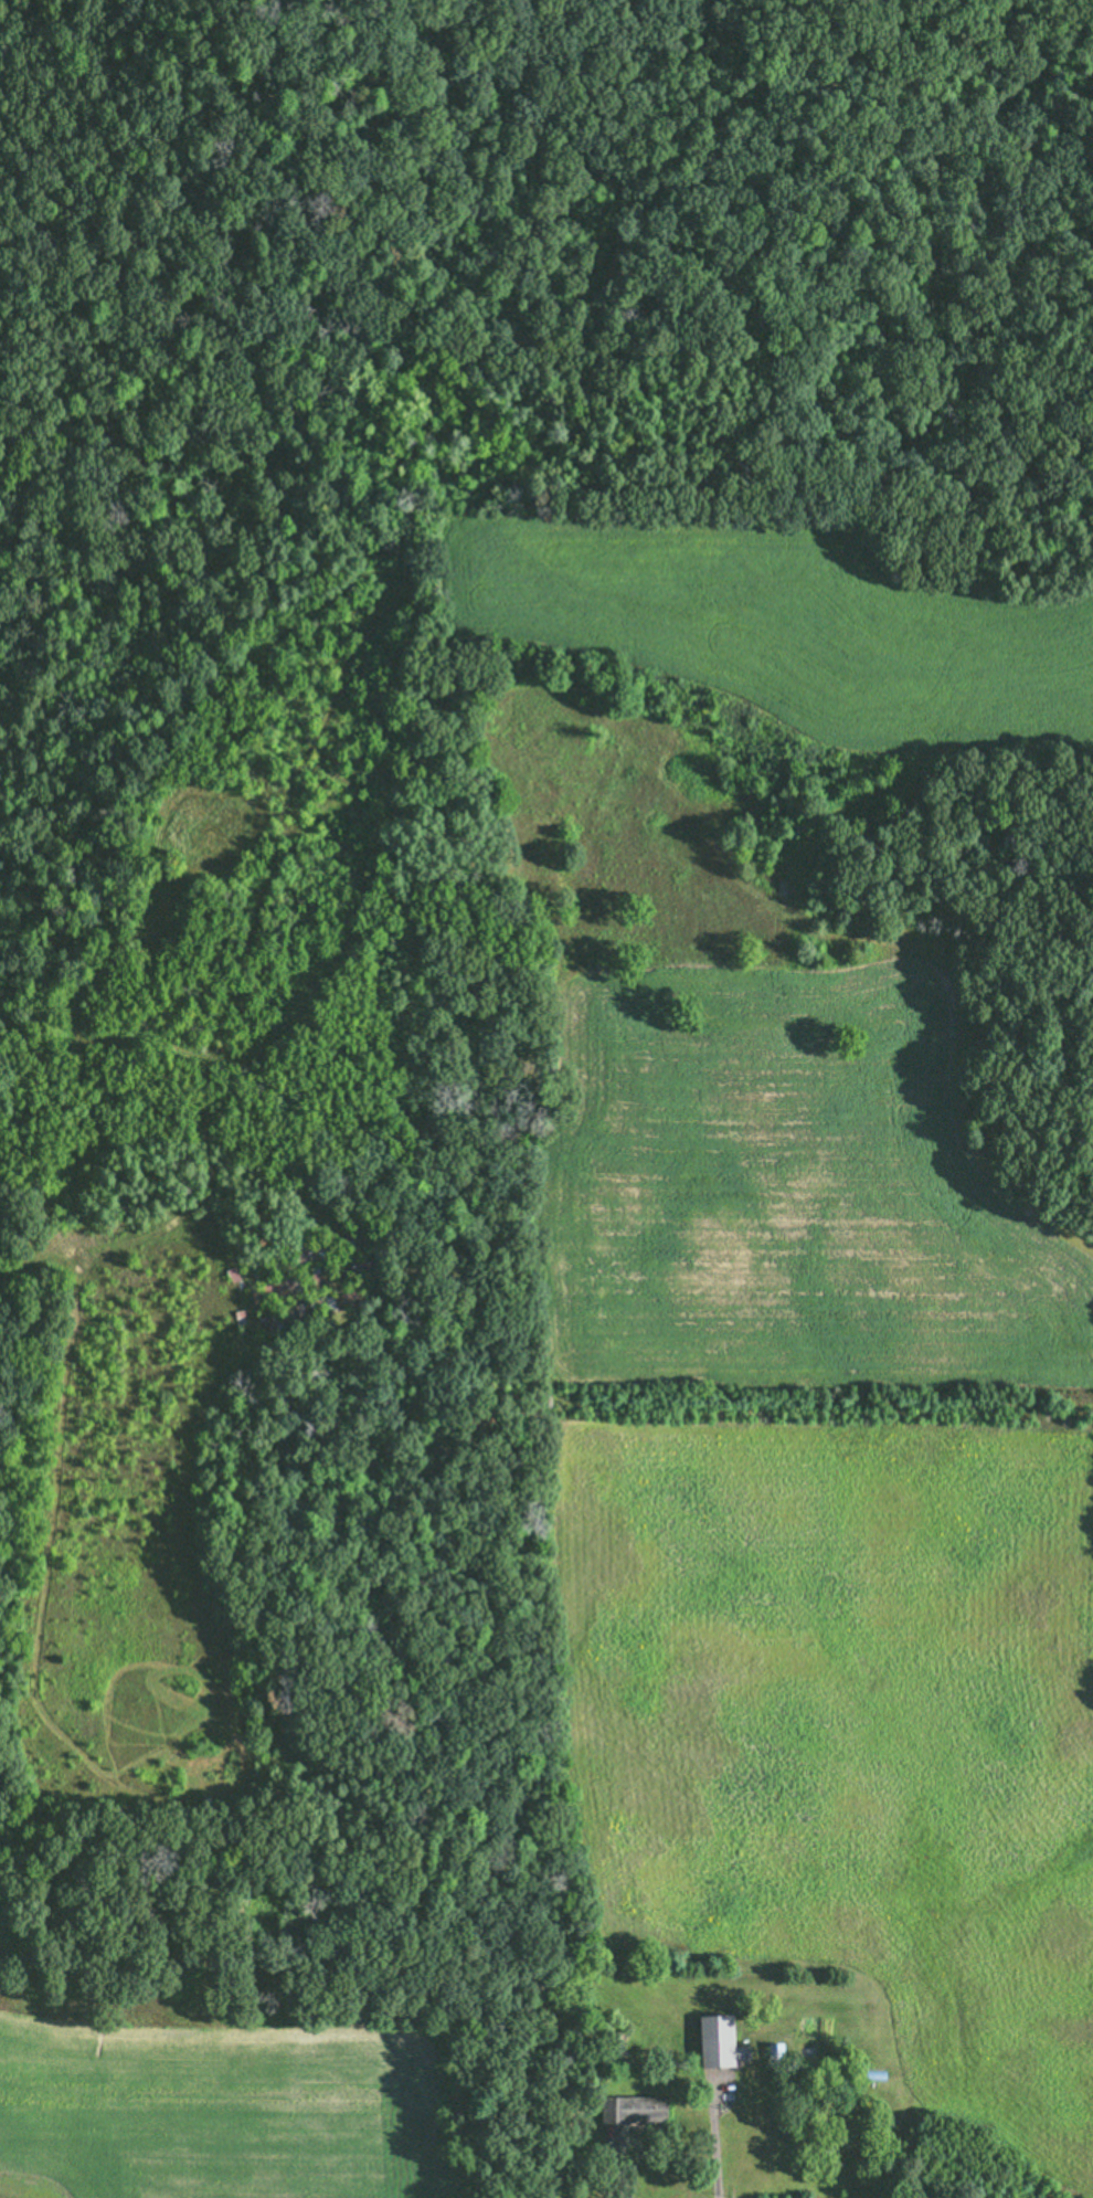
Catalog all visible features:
building: (717, 2041)
building: (633, 2110)
road: (717, 2138)
road: (618, 2167)

